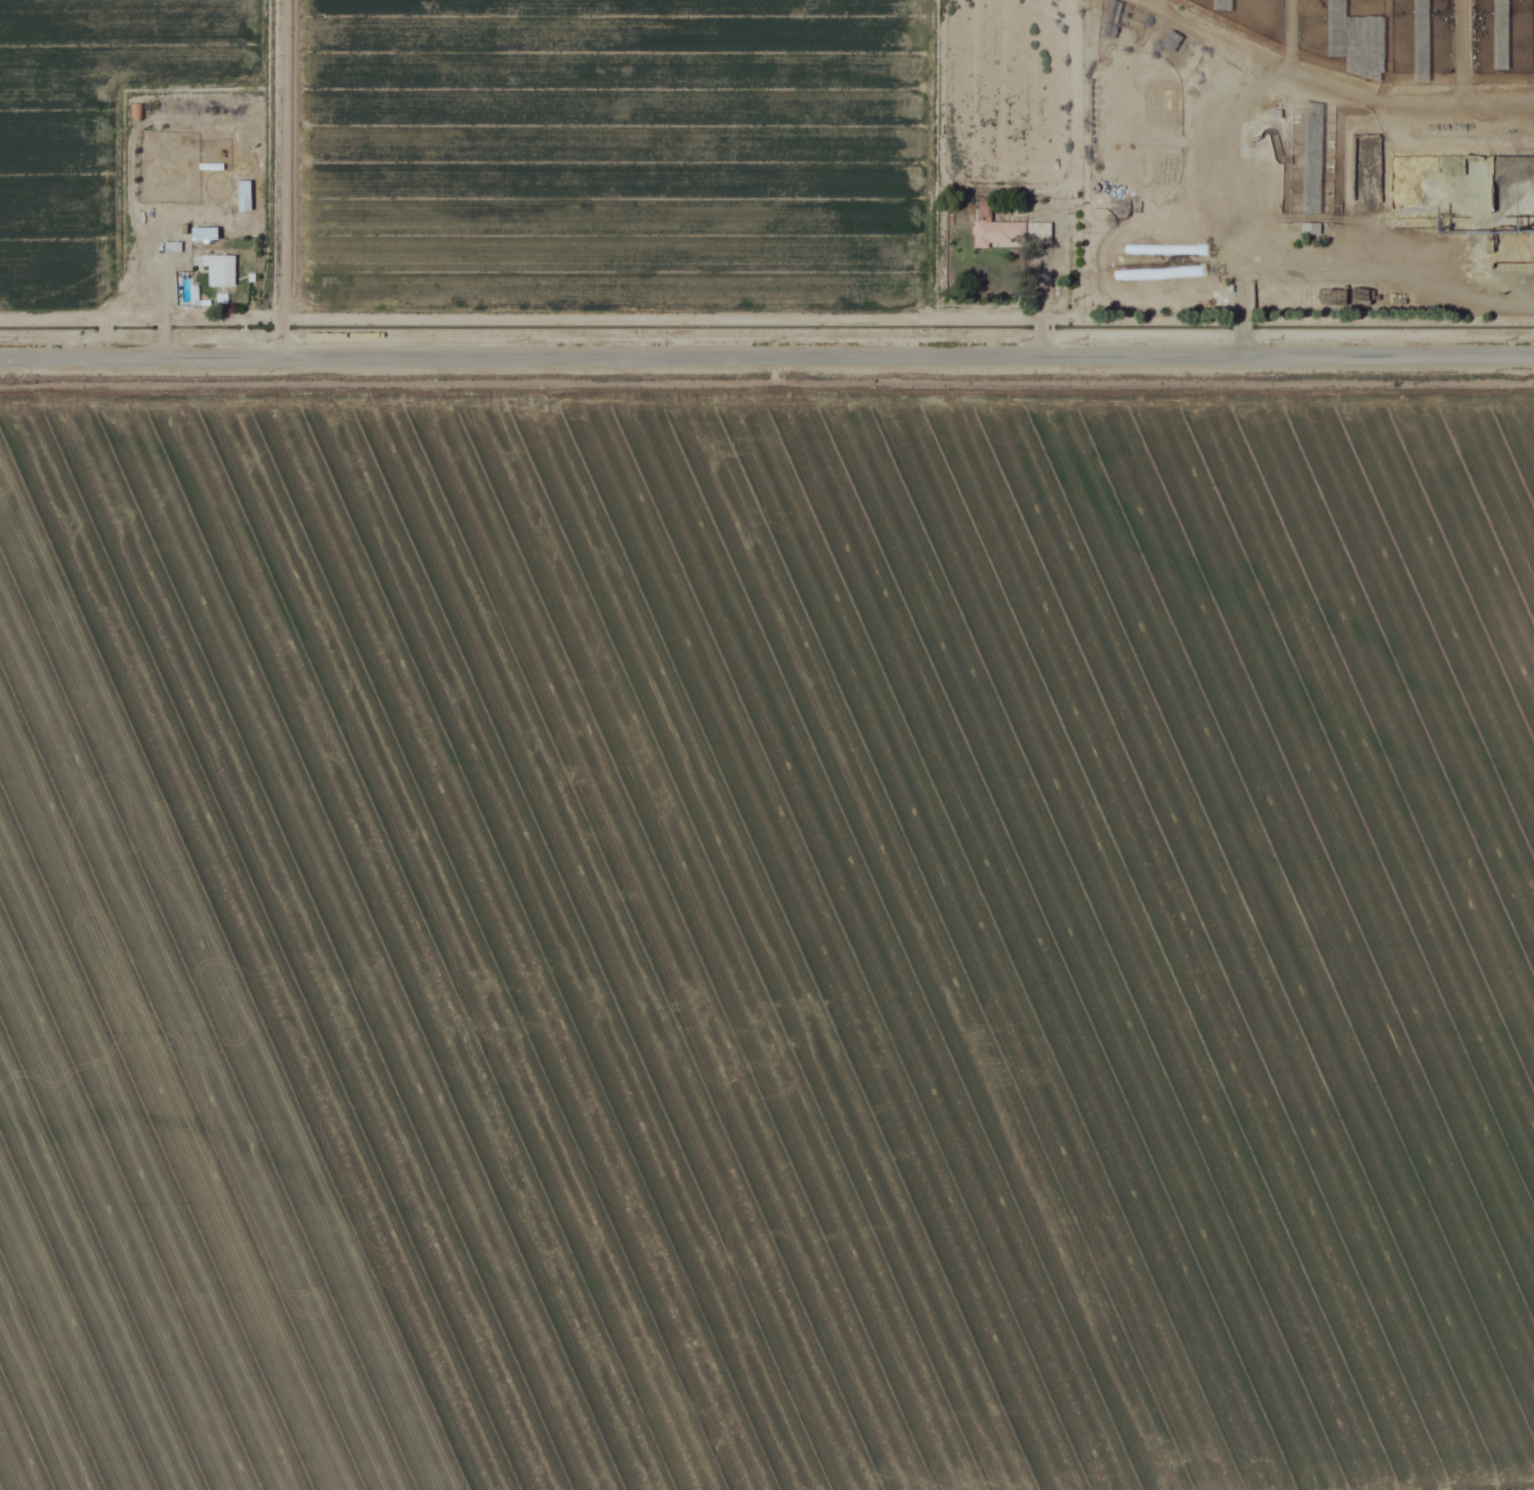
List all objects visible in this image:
building: (1337, 5)
building: (1114, 18)
building: (1501, 34)
building: (1171, 40)
building: (1422, 40)
crop: (90, 129)
crop: (610, 153)
building: (1516, 185)
building: (1010, 232)
building: (219, 269)
road: (767, 361)
crop: (767, 935)

